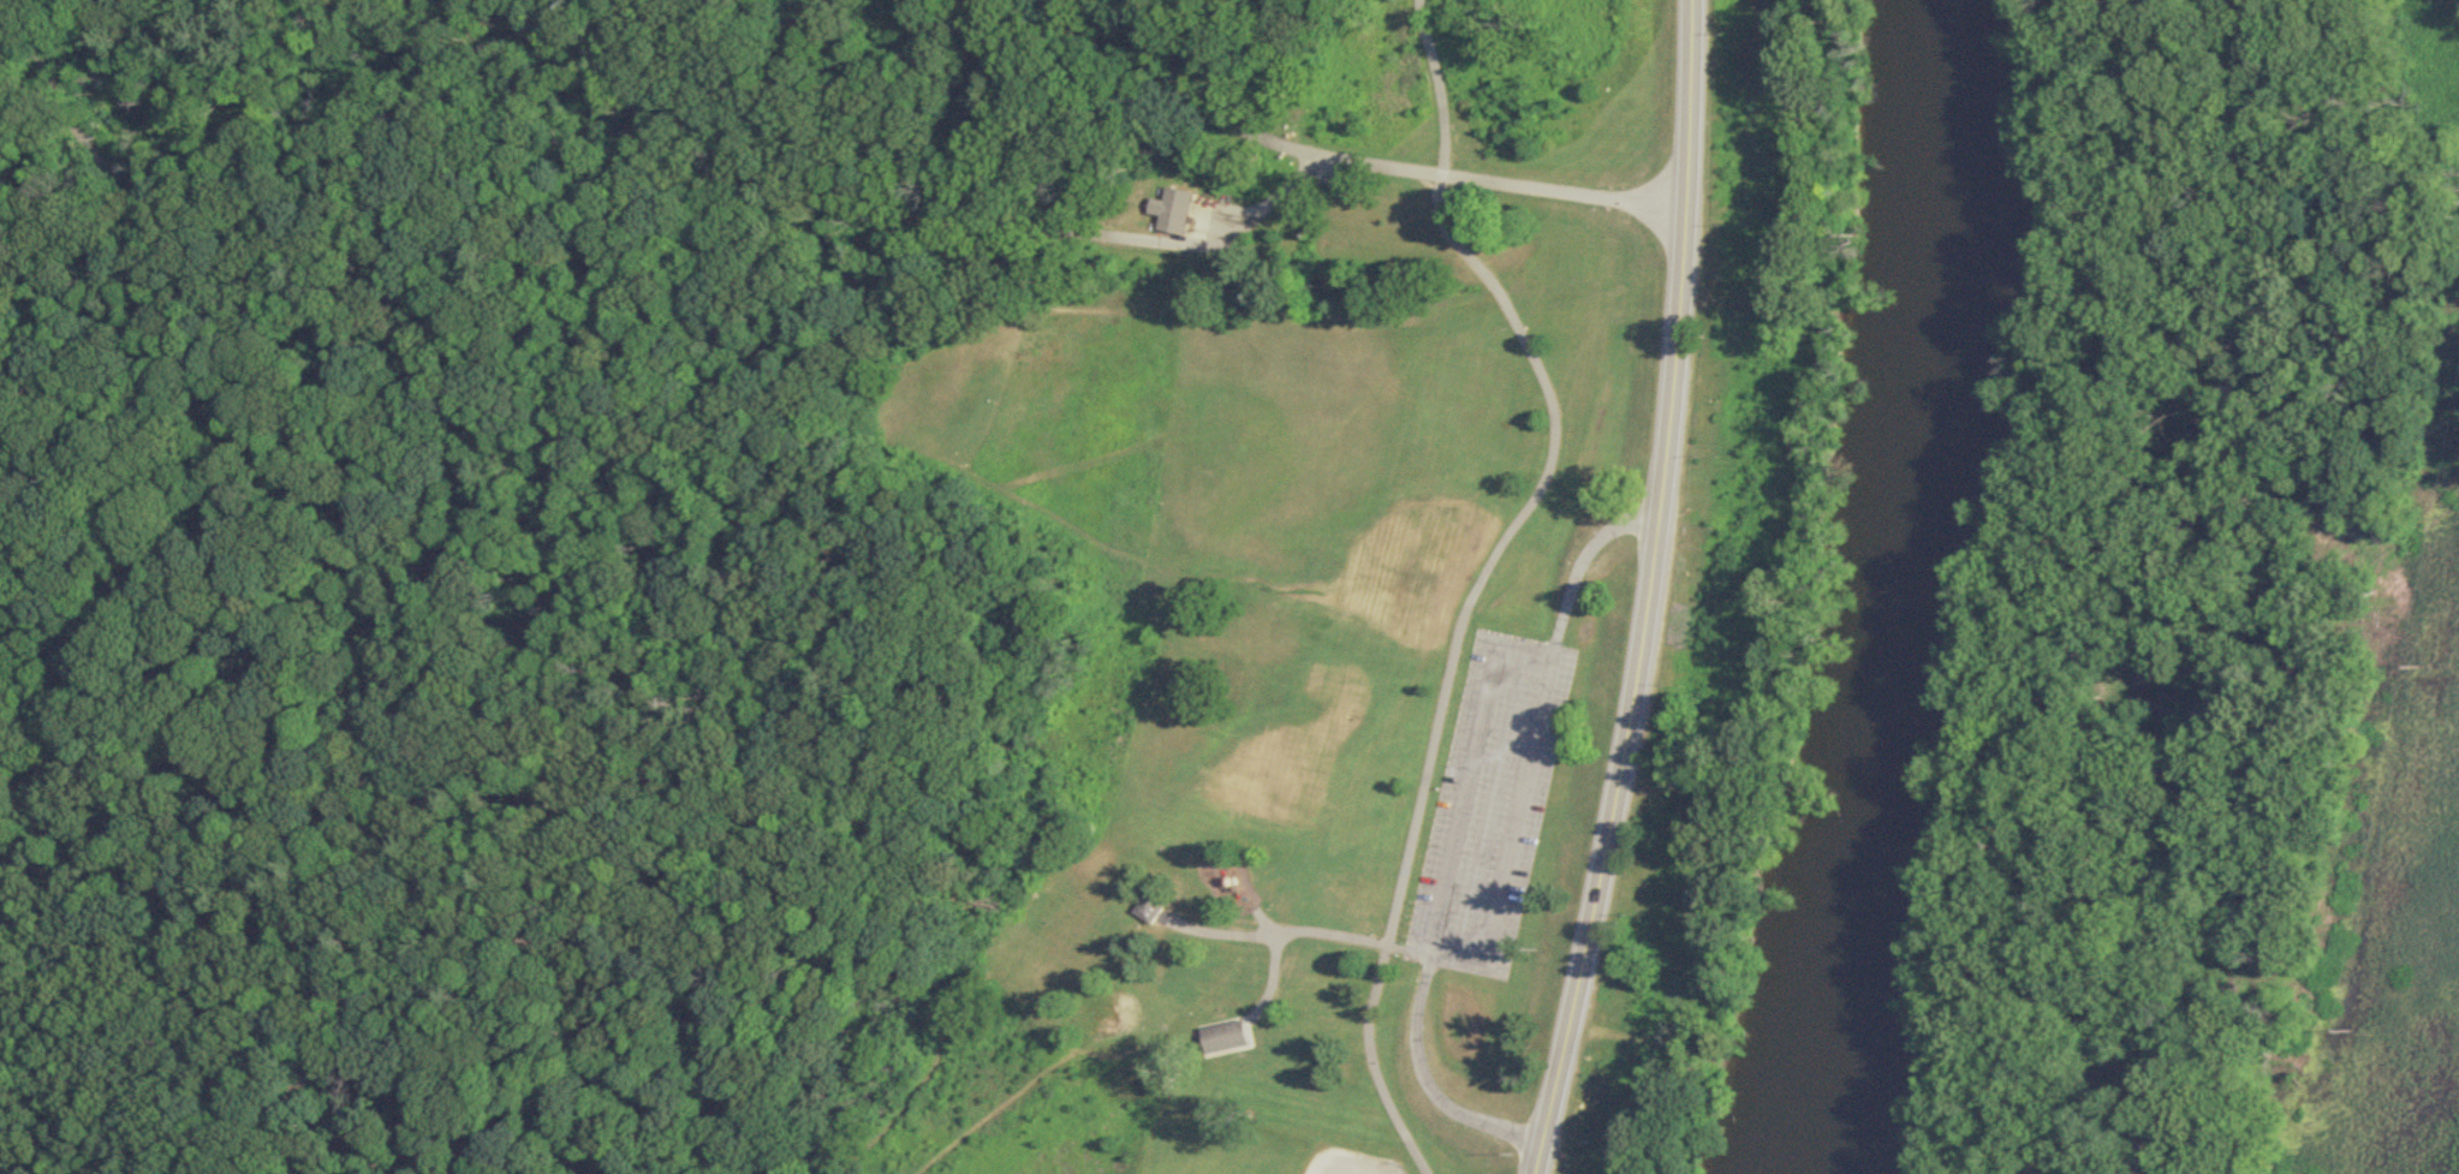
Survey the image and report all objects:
road: (1376, 166)
building: (1178, 211)
road: (905, 220)
road: (1583, 562)
road: (1482, 574)
road: (161, 577)
park: (822, 577)
road: (2192, 588)
river: (1923, 589)
road: (1654, 591)
road: (1490, 673)
parking lot: (1489, 805)
building: (1149, 910)
road: (1268, 935)
road: (1488, 937)
road: (1392, 947)
road: (1272, 965)
building: (1223, 1038)
road: (923, 1075)
road: (1429, 1086)
road: (1001, 1109)
road: (500, 1152)
park: (1348, 1163)

